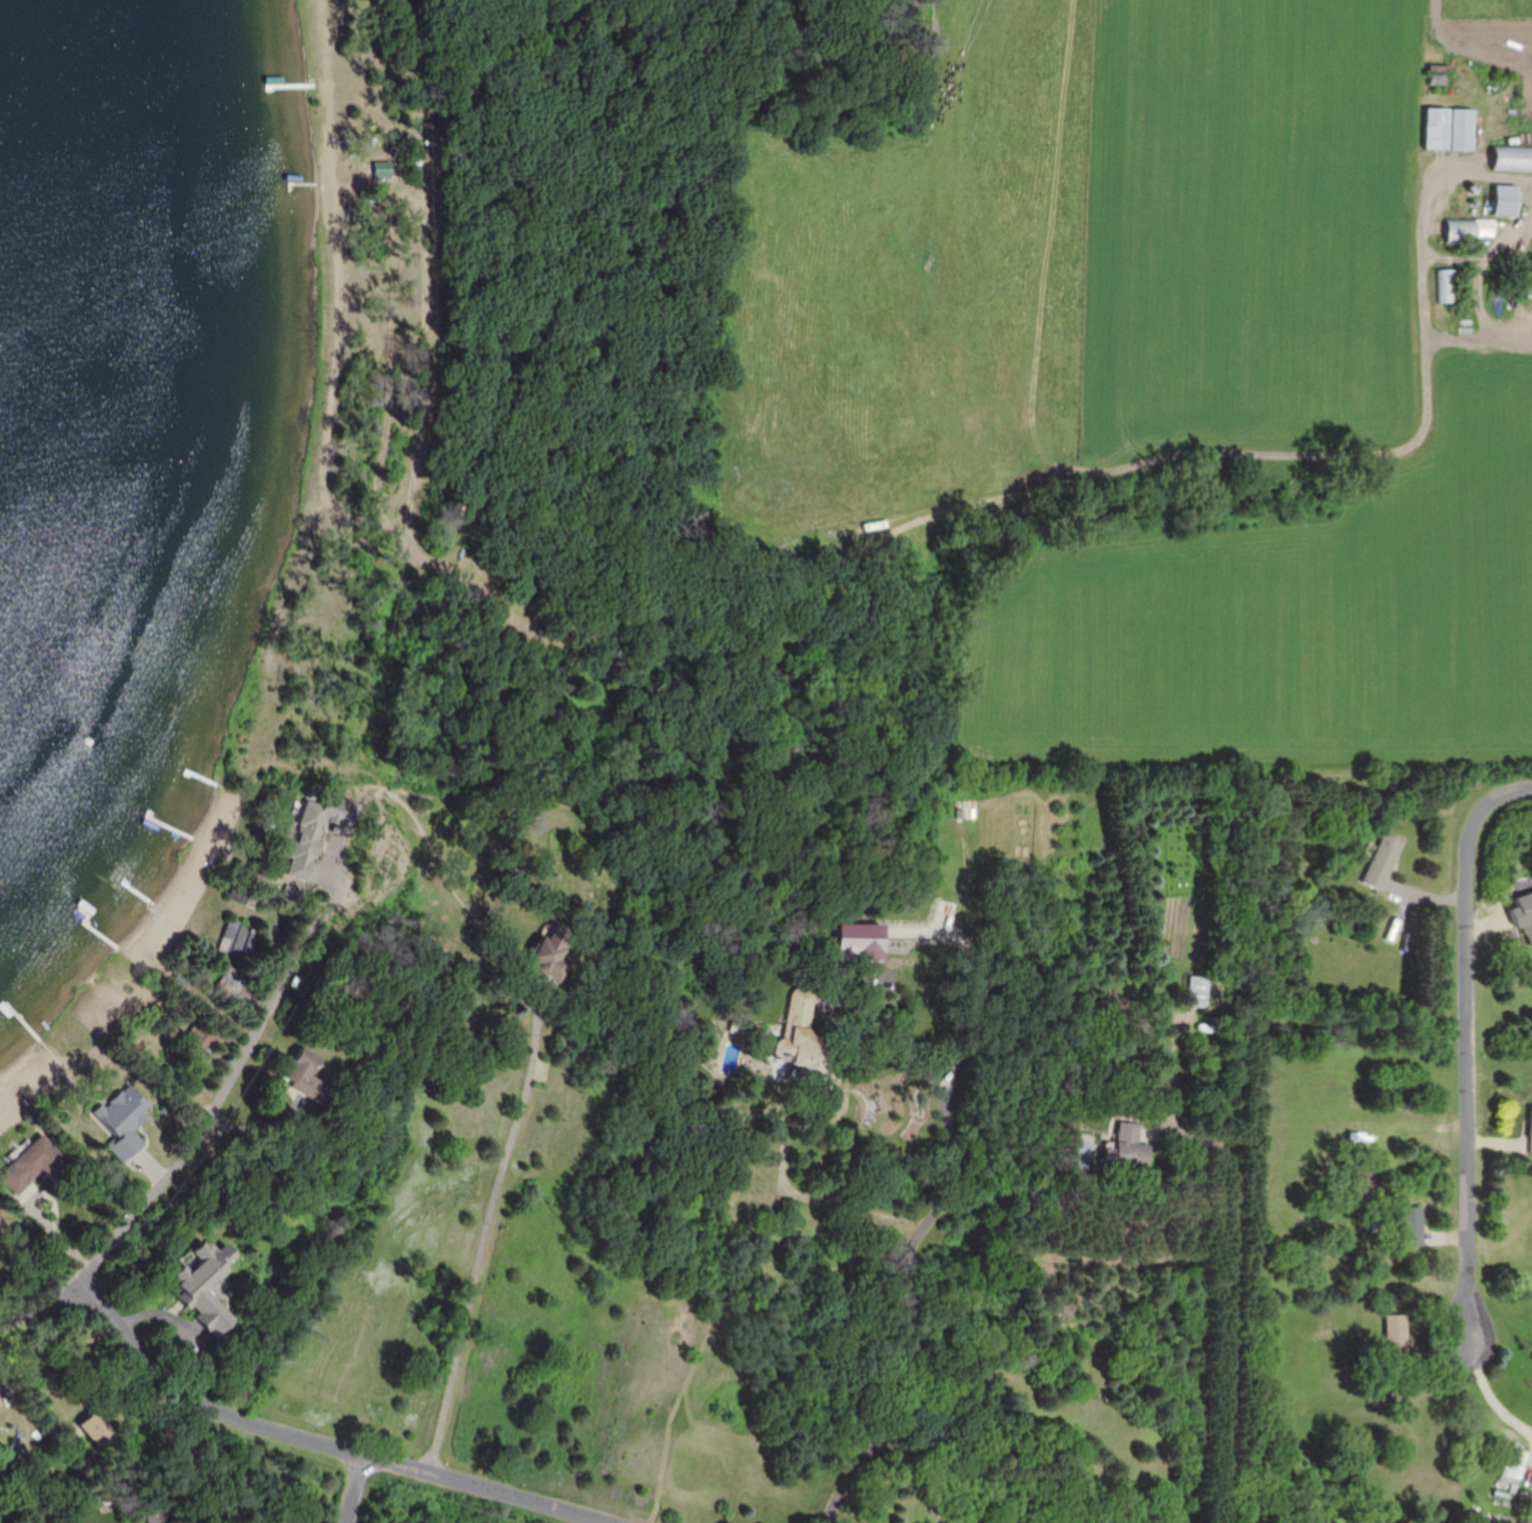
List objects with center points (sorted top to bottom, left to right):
building: (265, 85)
building: (1439, 127)
building: (1464, 128)
building: (1513, 157)
building: (382, 168)
building: (1507, 199)
building: (1471, 229)
building: (1448, 284)
building: (1530, 309)
road: (812, 552)
building: (966, 808)
building: (325, 811)
building: (1385, 860)
building: (1530, 934)
building: (239, 938)
building: (861, 938)
building: (552, 951)
road: (970, 979)
building: (228, 981)
building: (1200, 990)
building: (198, 1037)
road: (1472, 1046)
building: (306, 1075)
building: (123, 1115)
building: (1531, 1128)
building: (1364, 1136)
road: (184, 1139)
building: (1130, 1146)
building: (32, 1162)
building: (1, 1224)
building: (1407, 1224)
road: (483, 1239)
road: (916, 1240)
building: (204, 1285)
road: (1227, 1302)
building: (1398, 1335)
road: (1491, 1394)
building: (97, 1428)
road: (317, 1443)
building: (15, 1452)
building: (1513, 1467)
road: (355, 1490)

